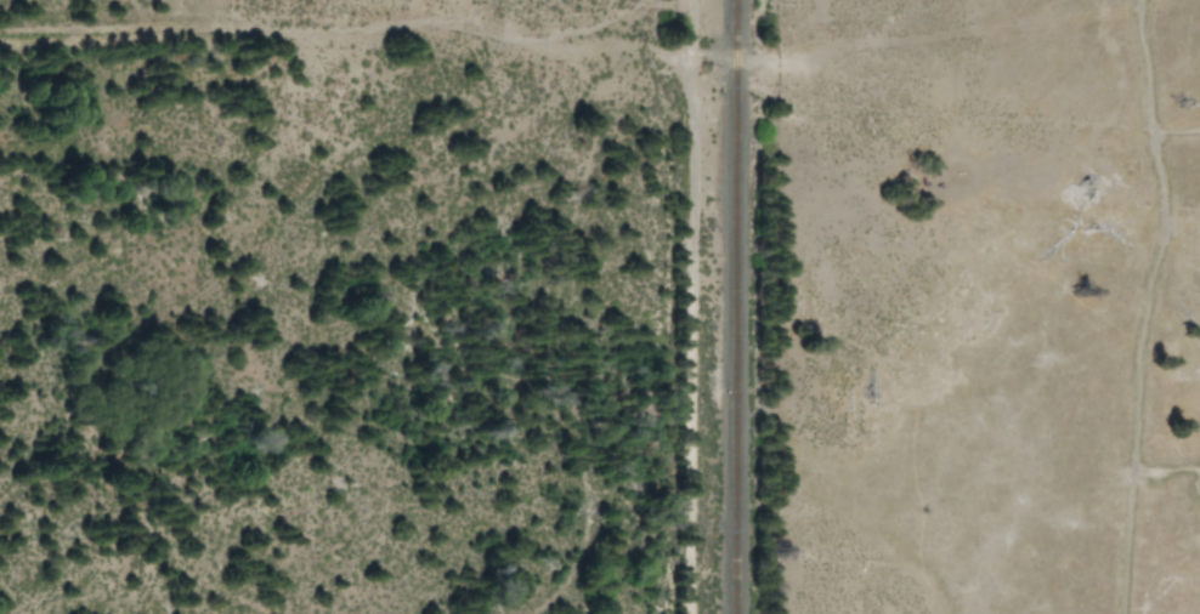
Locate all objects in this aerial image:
railway: (730, 307)

